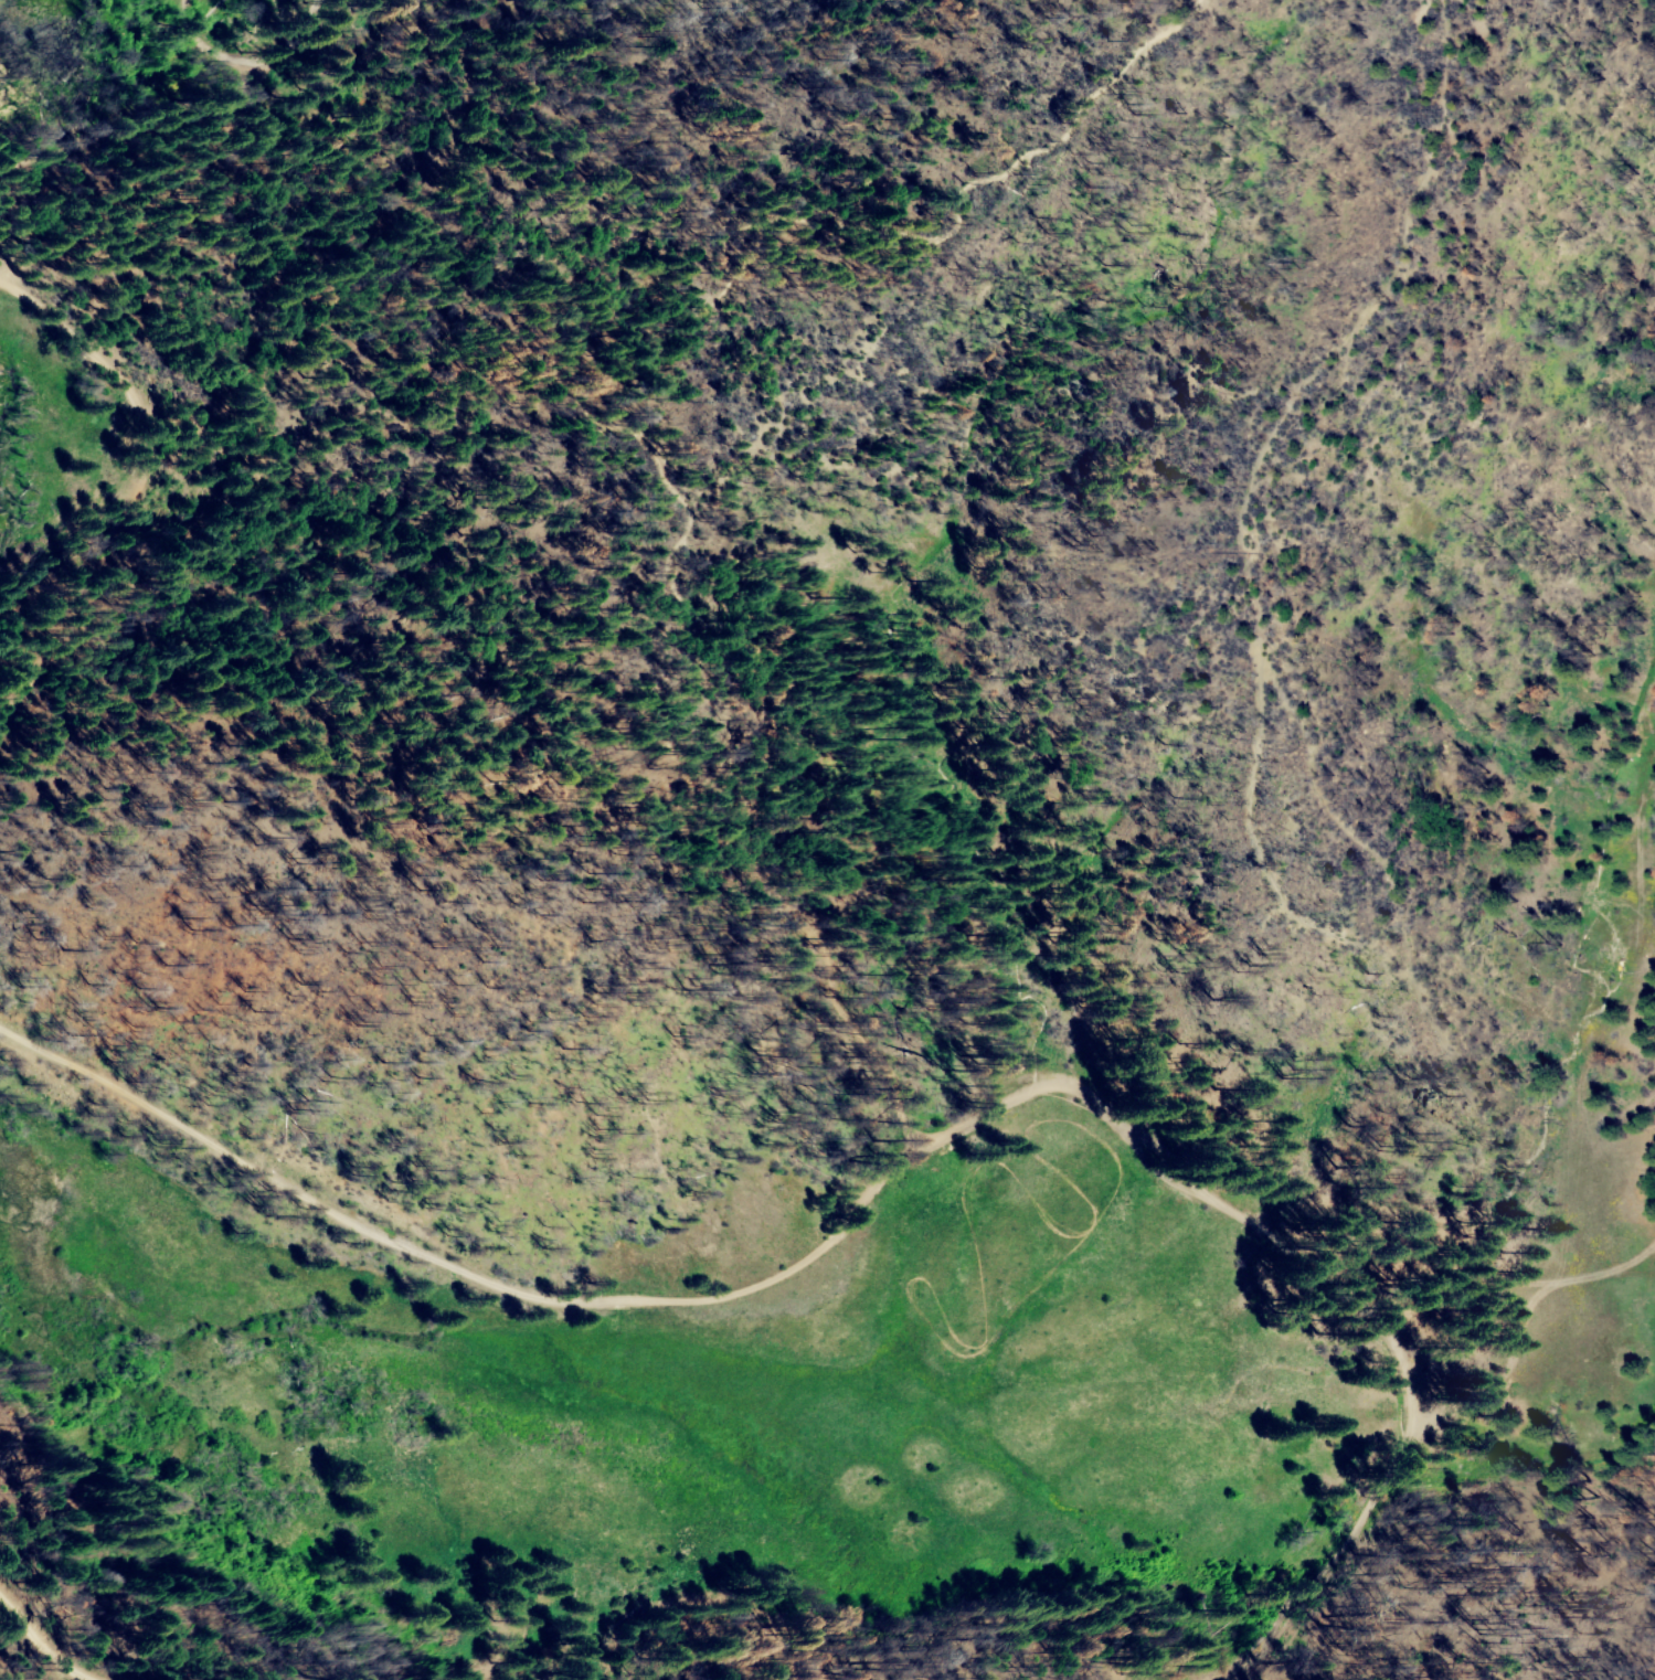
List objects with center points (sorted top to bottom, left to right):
road: (201, 34)
road: (287, 47)
road: (100, 361)
road: (903, 1150)
road: (1510, 1280)
road: (49, 1644)

